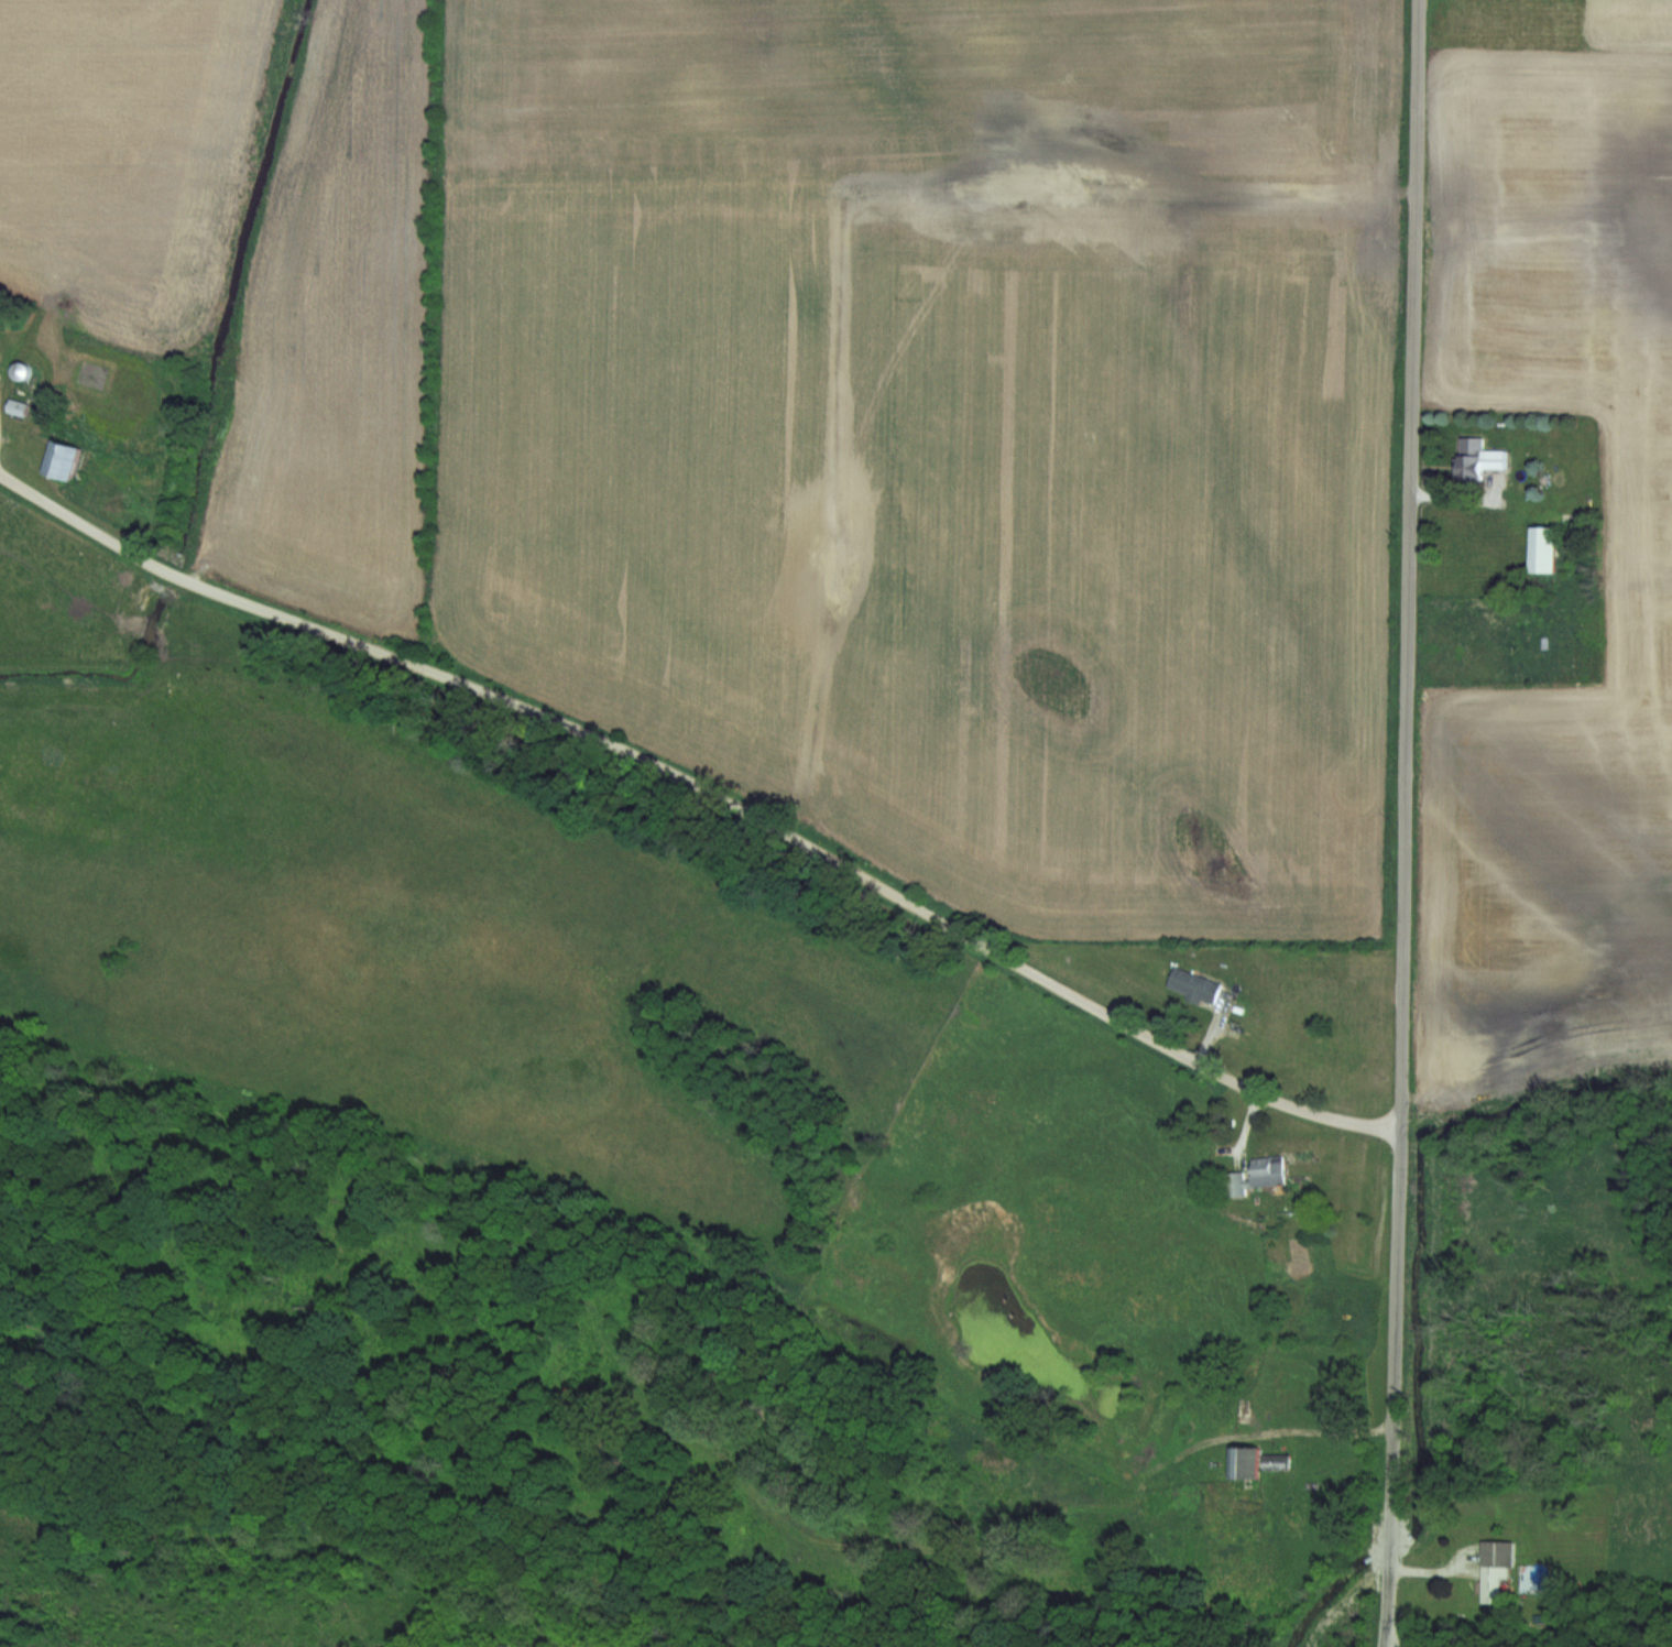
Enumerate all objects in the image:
building: (11, 406)
building: (1474, 459)
building: (55, 461)
building: (1537, 549)
road: (707, 786)
road: (1401, 787)
building: (1190, 986)
building: (1254, 1176)
road: (1321, 1429)
building: (1239, 1461)
building: (1270, 1462)
building: (1490, 1568)
road: (1379, 1611)

